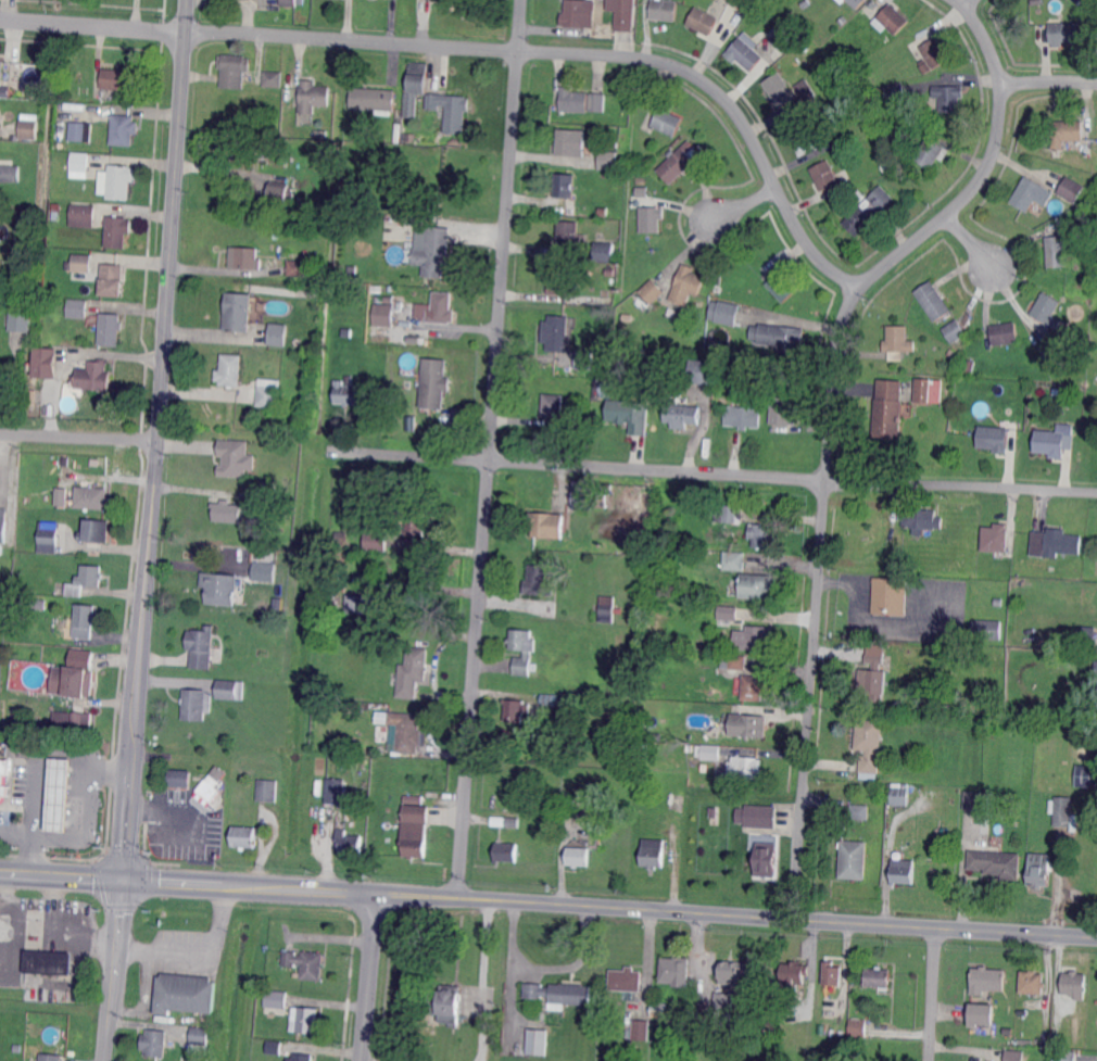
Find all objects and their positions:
building: (842, 0)
building: (286, 2)
building: (805, 2)
building: (741, 3)
building: (856, 3)
road: (968, 3)
building: (1089, 9)
building: (664, 10)
building: (576, 13)
building: (861, 13)
building: (892, 20)
building: (625, 21)
building: (703, 21)
building: (1066, 33)
building: (781, 43)
building: (804, 46)
road: (487, 49)
building: (936, 52)
building: (745, 53)
building: (926, 66)
building: (1, 68)
building: (232, 71)
building: (417, 76)
building: (861, 77)
building: (121, 79)
building: (274, 79)
road: (1048, 81)
building: (3, 90)
building: (780, 90)
building: (64, 92)
building: (896, 92)
building: (314, 94)
building: (948, 98)
building: (573, 99)
building: (374, 100)
building: (597, 102)
building: (451, 109)
building: (667, 122)
building: (124, 128)
building: (28, 129)
building: (81, 130)
building: (1067, 132)
building: (408, 136)
building: (827, 136)
building: (806, 139)
building: (455, 140)
building: (570, 141)
building: (614, 144)
building: (236, 149)
building: (1087, 152)
building: (931, 153)
building: (1080, 157)
building: (608, 160)
building: (836, 161)
building: (677, 164)
building: (80, 166)
building: (10, 173)
building: (824, 176)
building: (117, 181)
building: (565, 186)
building: (641, 190)
building: (1070, 190)
building: (279, 192)
building: (859, 194)
building: (1032, 194)
road: (744, 204)
building: (869, 210)
building: (56, 212)
building: (603, 212)
building: (81, 216)
building: (652, 218)
road: (174, 220)
building: (1092, 228)
building: (117, 230)
building: (570, 232)
building: (1093, 238)
road: (971, 241)
building: (1061, 248)
building: (433, 251)
building: (605, 251)
building: (244, 258)
building: (83, 263)
building: (300, 268)
building: (353, 269)
building: (373, 270)
building: (608, 273)
building: (559, 279)
building: (112, 280)
building: (685, 283)
building: (783, 287)
building: (717, 289)
building: (377, 290)
building: (653, 291)
building: (379, 298)
building: (389, 299)
building: (934, 301)
building: (78, 308)
building: (442, 308)
building: (1048, 310)
building: (724, 311)
building: (238, 312)
building: (383, 314)
building: (21, 321)
building: (111, 329)
building: (955, 330)
building: (346, 332)
building: (555, 332)
building: (278, 333)
building: (1005, 333)
building: (779, 337)
building: (898, 340)
building: (297, 343)
building: (951, 351)
building: (1054, 352)
building: (584, 359)
building: (1081, 359)
building: (46, 361)
building: (669, 362)
building: (971, 364)
building: (659, 367)
building: (230, 370)
building: (730, 370)
building: (702, 372)
building: (94, 376)
building: (7, 380)
building: (433, 383)
building: (928, 390)
building: (268, 391)
building: (346, 393)
building: (31, 397)
building: (399, 397)
building: (553, 405)
building: (783, 409)
building: (890, 409)
building: (682, 412)
building: (629, 415)
building: (744, 416)
road: (830, 421)
road: (79, 437)
building: (993, 439)
road: (175, 442)
building: (1050, 443)
road: (489, 447)
building: (234, 457)
building: (97, 463)
road: (716, 473)
building: (590, 493)
building: (270, 494)
building: (62, 496)
building: (92, 496)
building: (27, 498)
building: (661, 502)
building: (230, 511)
building: (729, 513)
building: (921, 518)
building: (546, 523)
building: (2, 525)
building: (417, 525)
building: (96, 532)
building: (341, 534)
building: (761, 535)
building: (49, 538)
building: (995, 539)
building: (376, 540)
building: (1055, 543)
building: (969, 546)
building: (0, 550)
building: (734, 560)
building: (262, 569)
building: (87, 580)
building: (340, 580)
building: (540, 581)
building: (757, 584)
building: (704, 591)
building: (220, 592)
building: (891, 596)
building: (263, 597)
building: (998, 601)
building: (40, 603)
building: (360, 604)
building: (263, 607)
building: (606, 608)
building: (726, 615)
building: (85, 622)
building: (986, 628)
building: (756, 637)
building: (1079, 639)
building: (1092, 640)
building: (201, 646)
building: (522, 649)
road: (135, 661)
building: (733, 662)
building: (1096, 671)
building: (413, 672)
building: (873, 673)
building: (73, 682)
building: (754, 687)
building: (231, 690)
building: (548, 699)
building: (198, 704)
building: (517, 709)
building: (950, 718)
building: (962, 718)
building: (571, 721)
building: (78, 724)
building: (751, 724)
building: (407, 731)
building: (651, 735)
building: (870, 746)
building: (691, 748)
building: (645, 750)
building: (708, 753)
road: (38, 758)
building: (745, 767)
building: (1086, 774)
building: (4, 779)
building: (178, 779)
building: (212, 787)
building: (268, 791)
building: (335, 792)
building: (60, 795)
building: (900, 796)
building: (414, 798)
building: (978, 800)
building: (569, 803)
building: (1061, 809)
building: (860, 811)
building: (757, 817)
building: (513, 822)
building: (414, 831)
road: (74, 837)
building: (243, 837)
building: (1043, 841)
building: (350, 843)
building: (506, 852)
building: (653, 854)
building: (578, 857)
building: (853, 859)
building: (766, 860)
building: (996, 863)
building: (904, 871)
building: (1038, 871)
traffic signals: (125, 883)
road: (547, 901)
road: (192, 951)
building: (49, 962)
building: (306, 963)
road: (543, 964)
road: (111, 971)
building: (676, 971)
building: (731, 971)
building: (795, 972)
building: (833, 974)
road: (370, 976)
building: (879, 978)
road: (484, 980)
building: (988, 980)
building: (627, 982)
building: (1033, 982)
building: (1075, 984)
building: (560, 994)
building: (187, 995)
road: (933, 995)
building: (277, 1002)
building: (449, 1005)
building: (659, 1009)
building: (723, 1010)
building: (981, 1013)
building: (825, 1014)
building: (305, 1020)
building: (858, 1027)
building: (641, 1031)
building: (1045, 1039)
building: (199, 1040)
building: (1056, 1040)
building: (538, 1041)
building: (155, 1043)
building: (275, 1047)
building: (630, 1052)
building: (1014, 1054)
building: (1064, 1056)
building: (50, 1057)
building: (302, 1057)
road: (367, 1060)

